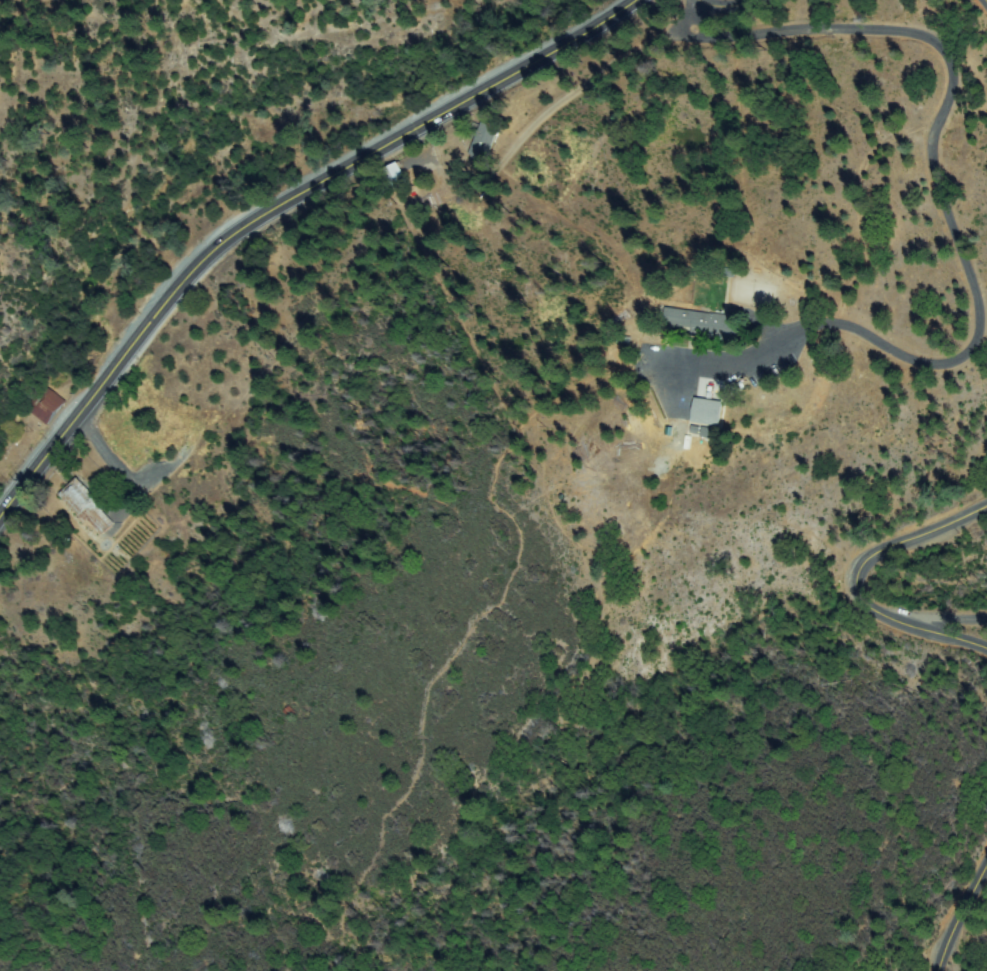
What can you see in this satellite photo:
road: (725, 7)
road: (981, 8)
building: (484, 140)
building: (396, 176)
road: (276, 207)
road: (951, 247)
building: (703, 324)
building: (48, 405)
building: (709, 409)
building: (88, 508)
road: (856, 584)
road: (978, 629)
road: (959, 915)

